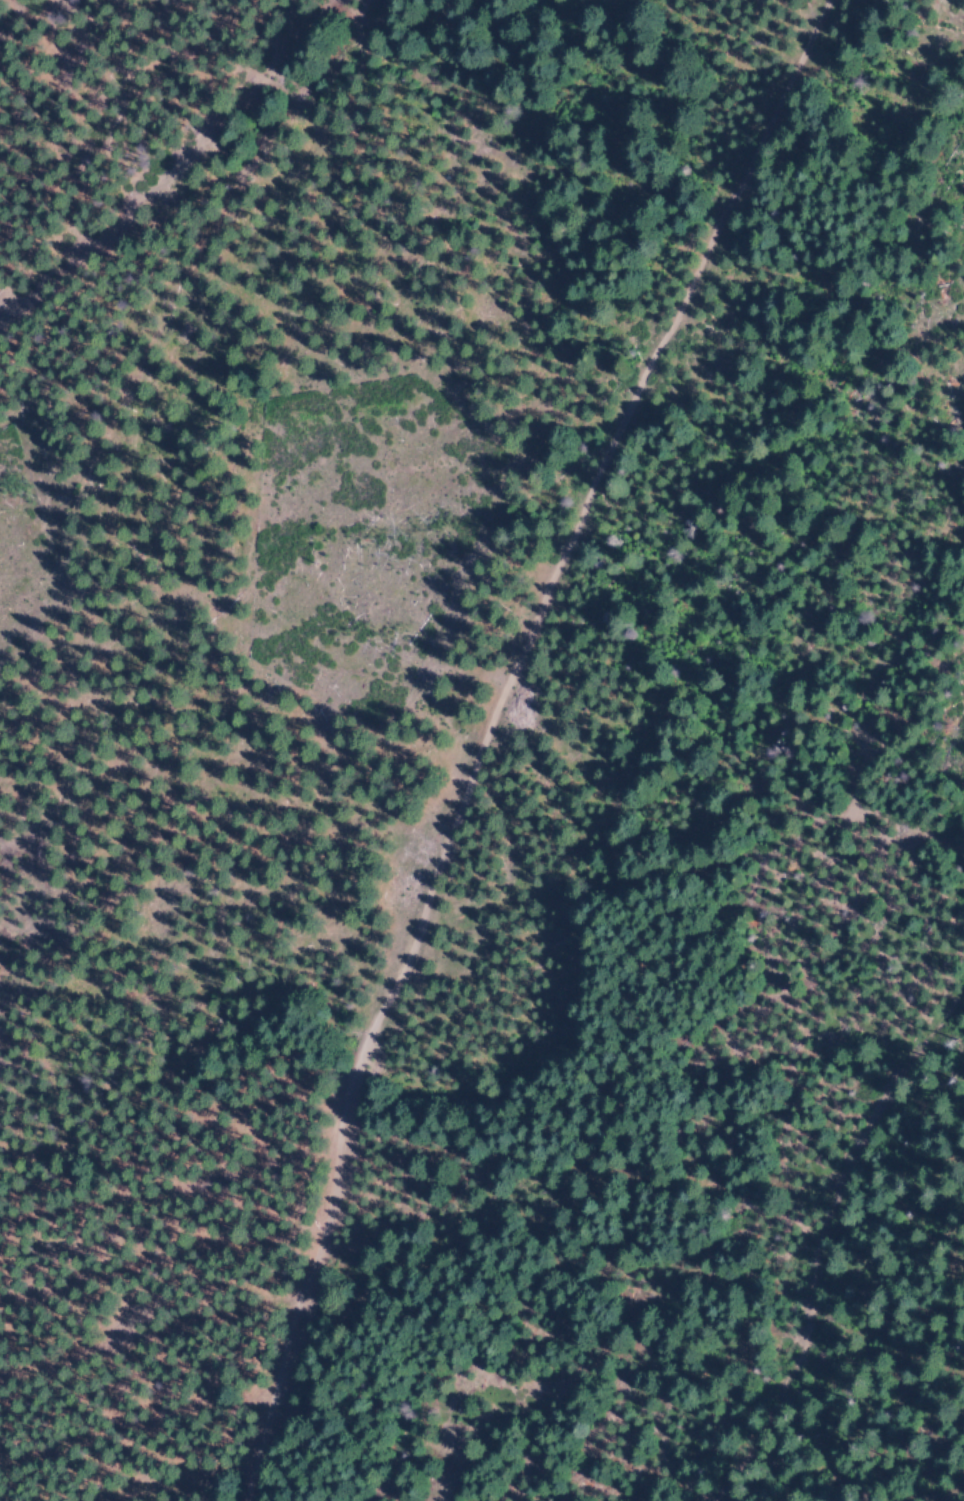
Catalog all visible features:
road: (486, 732)

